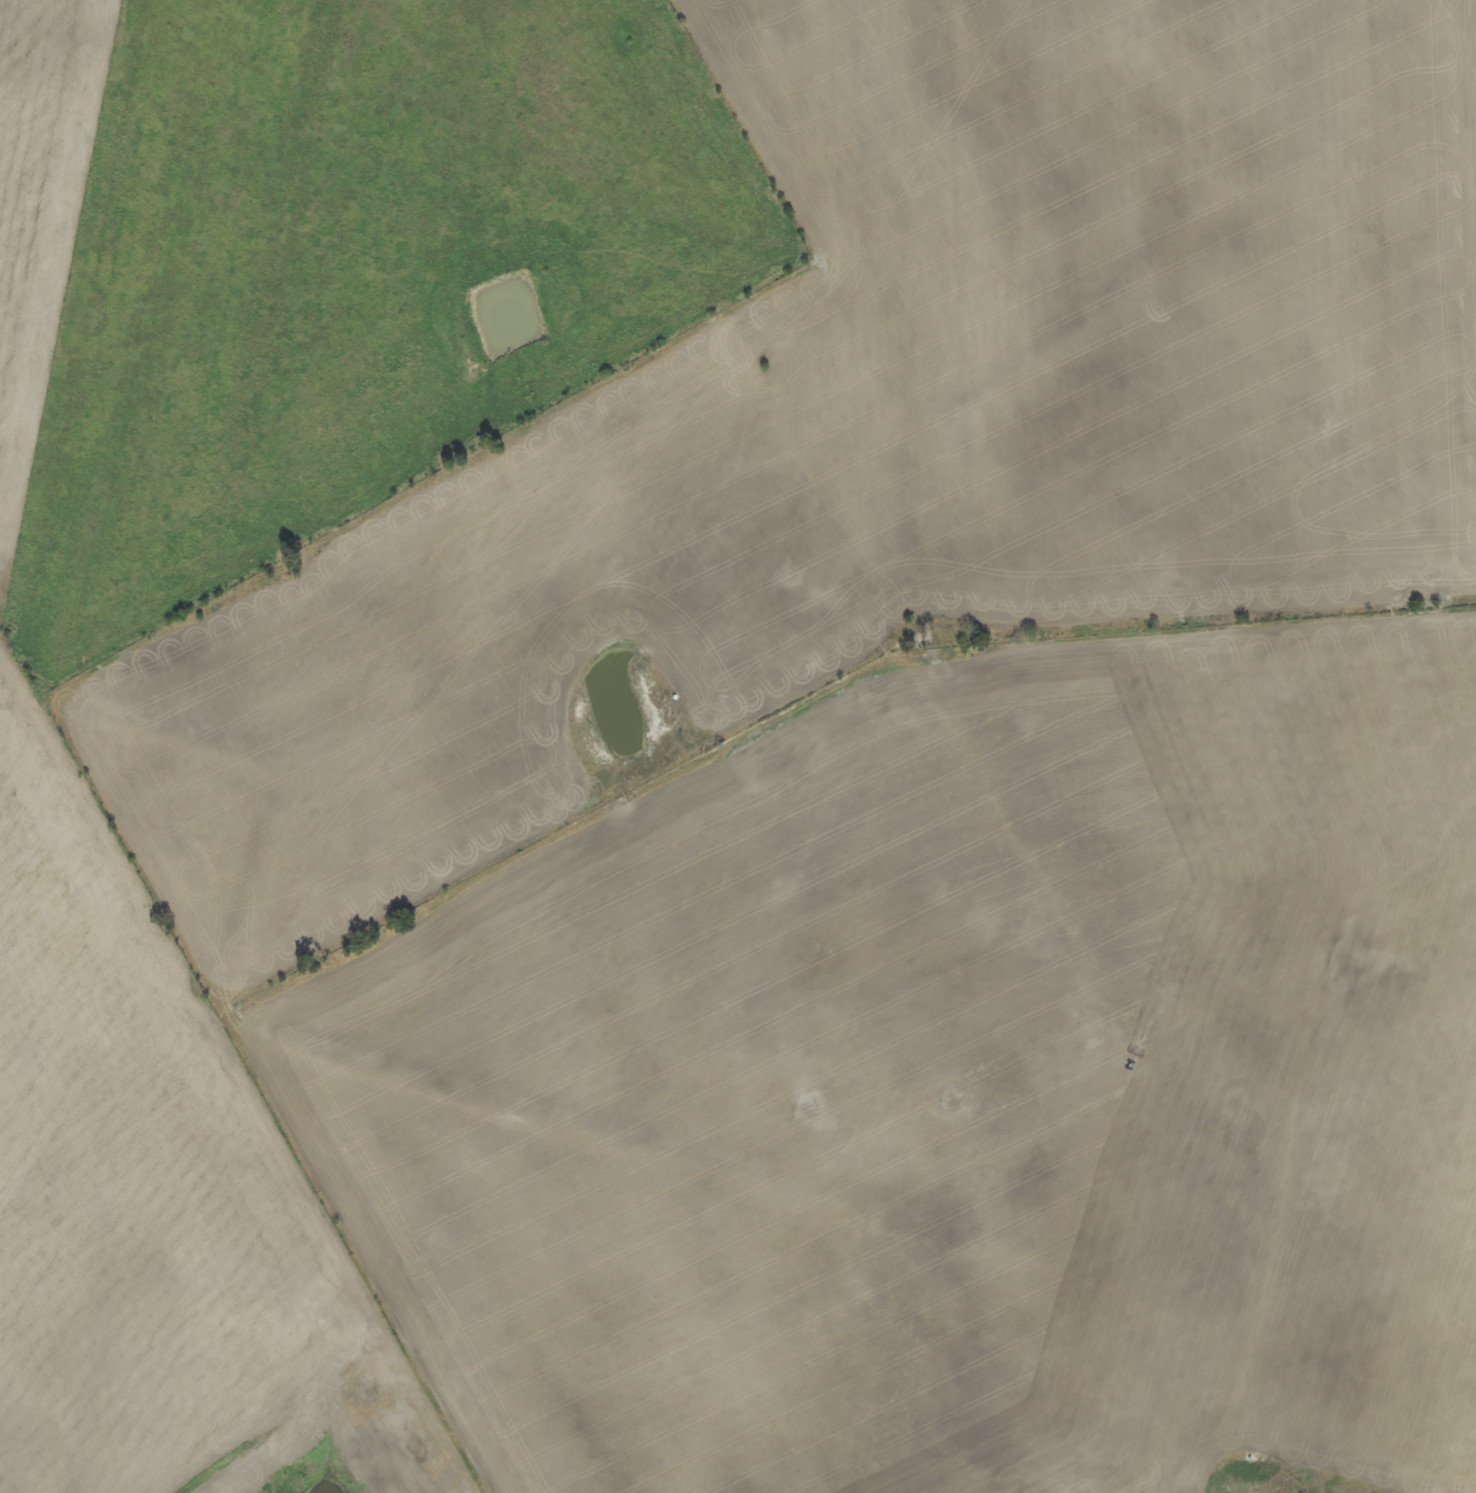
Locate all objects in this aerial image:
road: (1421, 664)

